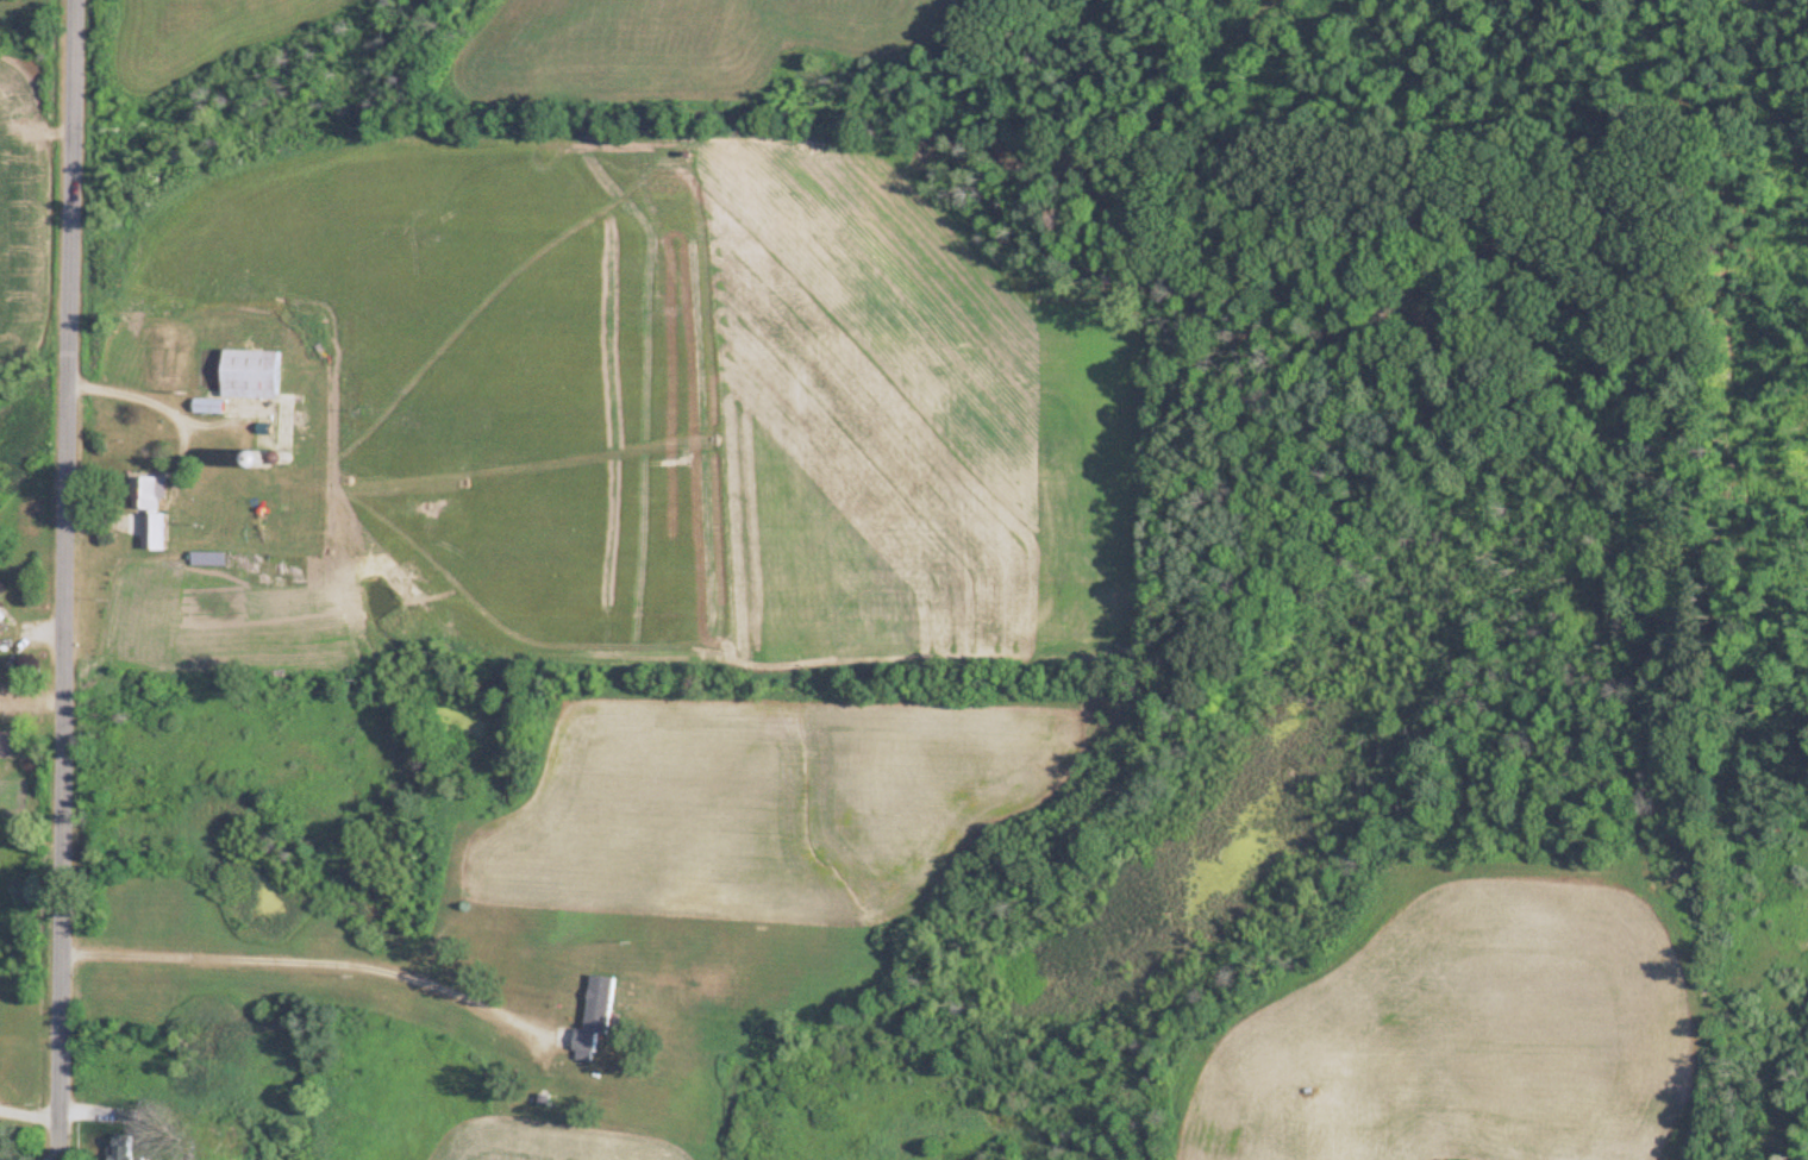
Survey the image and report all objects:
building: (245, 375)
road: (124, 390)
building: (143, 493)
road: (60, 579)
building: (0, 617)
road: (321, 958)
building: (601, 1005)
road: (155, 1111)
building: (115, 1147)

